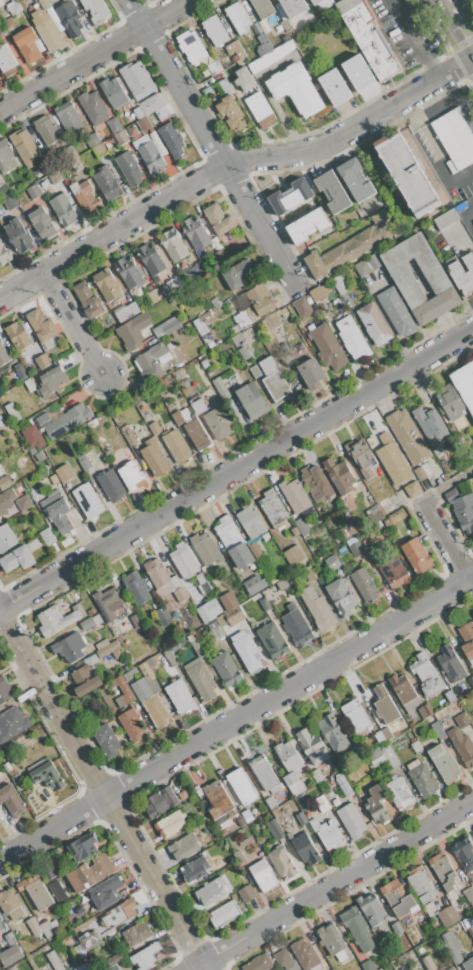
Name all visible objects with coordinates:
building: (34, 0)
building: (1, 3)
building: (322, 3)
building: (44, 4)
road: (406, 5)
building: (13, 7)
building: (262, 7)
building: (293, 7)
building: (96, 9)
building: (238, 17)
building: (69, 18)
road: (388, 21)
road: (460, 21)
building: (7, 23)
road: (407, 29)
building: (214, 30)
building: (1, 31)
building: (50, 34)
building: (367, 36)
building: (27, 44)
building: (191, 46)
building: (234, 49)
road: (94, 55)
building: (273, 55)
road: (394, 55)
building: (7, 61)
building: (214, 67)
road: (430, 69)
building: (356, 72)
building: (137, 79)
building: (244, 79)
building: (333, 86)
building: (296, 89)
building: (113, 92)
road: (451, 99)
road: (425, 100)
building: (151, 104)
building: (93, 107)
building: (229, 107)
building: (260, 109)
building: (138, 113)
building: (162, 113)
building: (69, 117)
building: (143, 123)
building: (114, 126)
road: (354, 126)
building: (46, 130)
building: (121, 137)
building: (154, 137)
building: (454, 139)
building: (92, 140)
building: (172, 140)
road: (209, 140)
building: (24, 146)
building: (149, 154)
building: (6, 157)
road: (438, 163)
building: (128, 168)
building: (406, 173)
building: (355, 179)
building: (2, 182)
building: (107, 182)
building: (332, 191)
building: (4, 192)
building: (33, 192)
building: (85, 196)
building: (291, 196)
building: (10, 203)
building: (62, 209)
road: (463, 216)
building: (446, 219)
building: (218, 220)
building: (42, 223)
building: (307, 225)
road: (112, 232)
building: (195, 232)
building: (18, 235)
building: (173, 245)
building: (391, 245)
building: (351, 246)
building: (3, 255)
building: (151, 259)
building: (372, 261)
building: (361, 267)
building: (129, 272)
building: (237, 274)
building: (463, 274)
building: (403, 278)
building: (339, 283)
building: (107, 286)
building: (315, 293)
building: (152, 295)
building: (87, 300)
building: (214, 301)
building: (258, 301)
building: (302, 307)
building: (396, 311)
building: (127, 312)
building: (205, 317)
building: (270, 322)
road: (72, 323)
building: (373, 323)
building: (41, 324)
building: (162, 331)
building: (132, 333)
building: (18, 335)
building: (352, 337)
building: (298, 346)
building: (327, 347)
building: (4, 353)
building: (243, 353)
building: (42, 361)
building: (150, 363)
building: (254, 371)
building: (21, 372)
building: (311, 373)
building: (273, 378)
building: (52, 380)
building: (464, 383)
building: (220, 388)
building: (188, 389)
building: (252, 400)
building: (451, 405)
building: (198, 406)
building: (12, 412)
building: (184, 413)
building: (177, 417)
building: (68, 420)
building: (220, 422)
building: (430, 424)
building: (0, 426)
building: (34, 426)
building: (154, 428)
building: (197, 434)
building: (407, 436)
building: (32, 437)
building: (129, 437)
building: (176, 446)
building: (40, 456)
building: (0, 457)
building: (154, 458)
building: (362, 459)
building: (392, 460)
building: (84, 462)
building: (443, 464)
road: (236, 467)
building: (1, 469)
building: (63, 473)
building: (420, 473)
building: (131, 476)
building: (340, 476)
building: (53, 479)
building: (316, 482)
building: (43, 483)
road: (447, 484)
building: (111, 485)
building: (413, 489)
building: (294, 496)
building: (87, 500)
building: (5, 502)
building: (272, 507)
building: (464, 512)
building: (374, 514)
building: (60, 515)
building: (251, 521)
building: (387, 522)
building: (302, 526)
building: (294, 531)
building: (47, 536)
building: (6, 538)
road: (445, 540)
building: (233, 542)
building: (205, 548)
building: (255, 549)
building: (355, 549)
building: (292, 555)
building: (20, 556)
building: (416, 556)
building: (183, 560)
building: (332, 563)
building: (394, 572)
building: (309, 574)
building: (158, 577)
building: (200, 578)
building: (254, 584)
building: (282, 584)
building: (363, 585)
building: (136, 588)
building: (180, 595)
building: (341, 597)
building: (228, 600)
building: (108, 602)
building: (264, 604)
building: (317, 608)
building: (208, 610)
building: (162, 614)
building: (236, 617)
building: (58, 619)
building: (136, 620)
building: (220, 620)
building: (86, 623)
building: (212, 625)
building: (296, 625)
building: (227, 631)
building: (214, 634)
building: (272, 640)
building: (467, 641)
building: (101, 644)
building: (194, 645)
building: (174, 646)
building: (70, 647)
building: (109, 650)
building: (248, 652)
building: (170, 658)
building: (451, 664)
building: (227, 669)
building: (146, 671)
building: (172, 671)
building: (130, 674)
building: (426, 675)
building: (85, 680)
building: (201, 680)
building: (471, 681)
building: (5, 691)
building: (123, 691)
building: (404, 692)
building: (449, 696)
building: (179, 697)
building: (151, 704)
building: (384, 705)
building: (425, 711)
building: (355, 716)
road: (236, 718)
building: (461, 720)
building: (12, 723)
building: (131, 724)
building: (438, 730)
building: (102, 733)
building: (333, 734)
building: (383, 735)
building: (311, 746)
building: (416, 746)
building: (462, 746)
building: (109, 747)
building: (389, 755)
building: (289, 760)
building: (444, 763)
building: (7, 767)
building: (265, 774)
building: (47, 775)
building: (317, 775)
building: (421, 778)
building: (241, 786)
building: (343, 786)
building: (297, 788)
road: (102, 793)
building: (399, 793)
building: (12, 799)
building: (276, 800)
building: (160, 802)
building: (269, 802)
building: (218, 804)
building: (321, 804)
building: (376, 804)
building: (247, 816)
building: (301, 818)
building: (351, 820)
building: (170, 824)
building: (0, 825)
building: (274, 829)
building: (331, 838)
building: (183, 846)
building: (83, 847)
building: (305, 848)
building: (464, 854)
building: (239, 856)
building: (282, 863)
building: (51, 869)
building: (195, 869)
building: (90, 873)
building: (444, 874)
building: (262, 875)
building: (421, 884)
road: (331, 885)
building: (35, 891)
building: (57, 891)
building: (106, 891)
building: (211, 891)
building: (247, 893)
building: (468, 893)
building: (399, 899)
building: (83, 901)
building: (10, 905)
building: (372, 909)
building: (88, 910)
building: (119, 913)
building: (224, 914)
building: (448, 917)
building: (469, 924)
building: (1, 926)
building: (396, 927)
building: (357, 928)
building: (35, 929)
building: (46, 929)
building: (136, 933)
building: (330, 939)
building: (90, 940)
building: (452, 945)
building: (305, 954)
building: (10, 955)
building: (145, 956)
building: (281, 957)
building: (114, 959)
building: (54, 961)
building: (427, 962)
building: (259, 963)
building: (468, 964)
building: (291, 965)
building: (367, 965)
building: (82, 967)
building: (112, 967)
building: (12, 968)
building: (452, 968)
building: (331, 969)
building: (380, 969)

